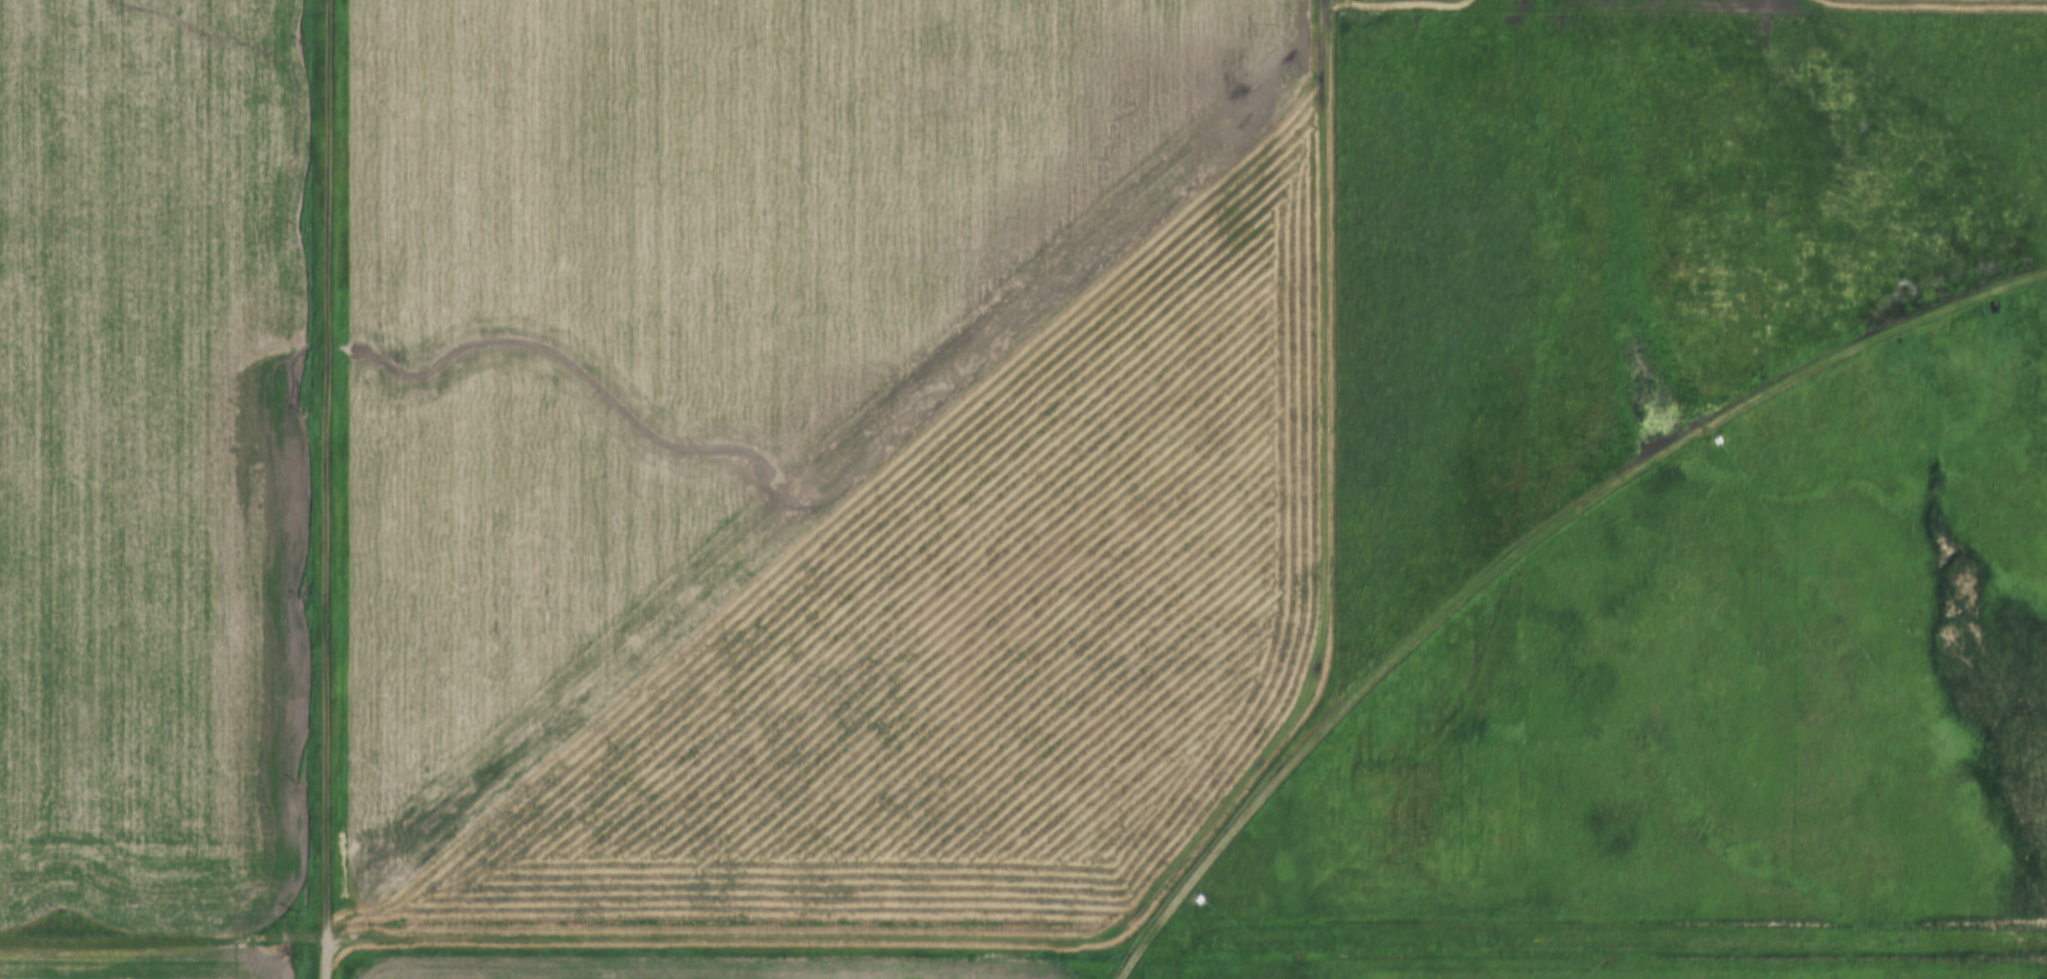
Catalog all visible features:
road: (323, 469)
road: (1529, 551)
road: (1023, 938)
road: (327, 959)

